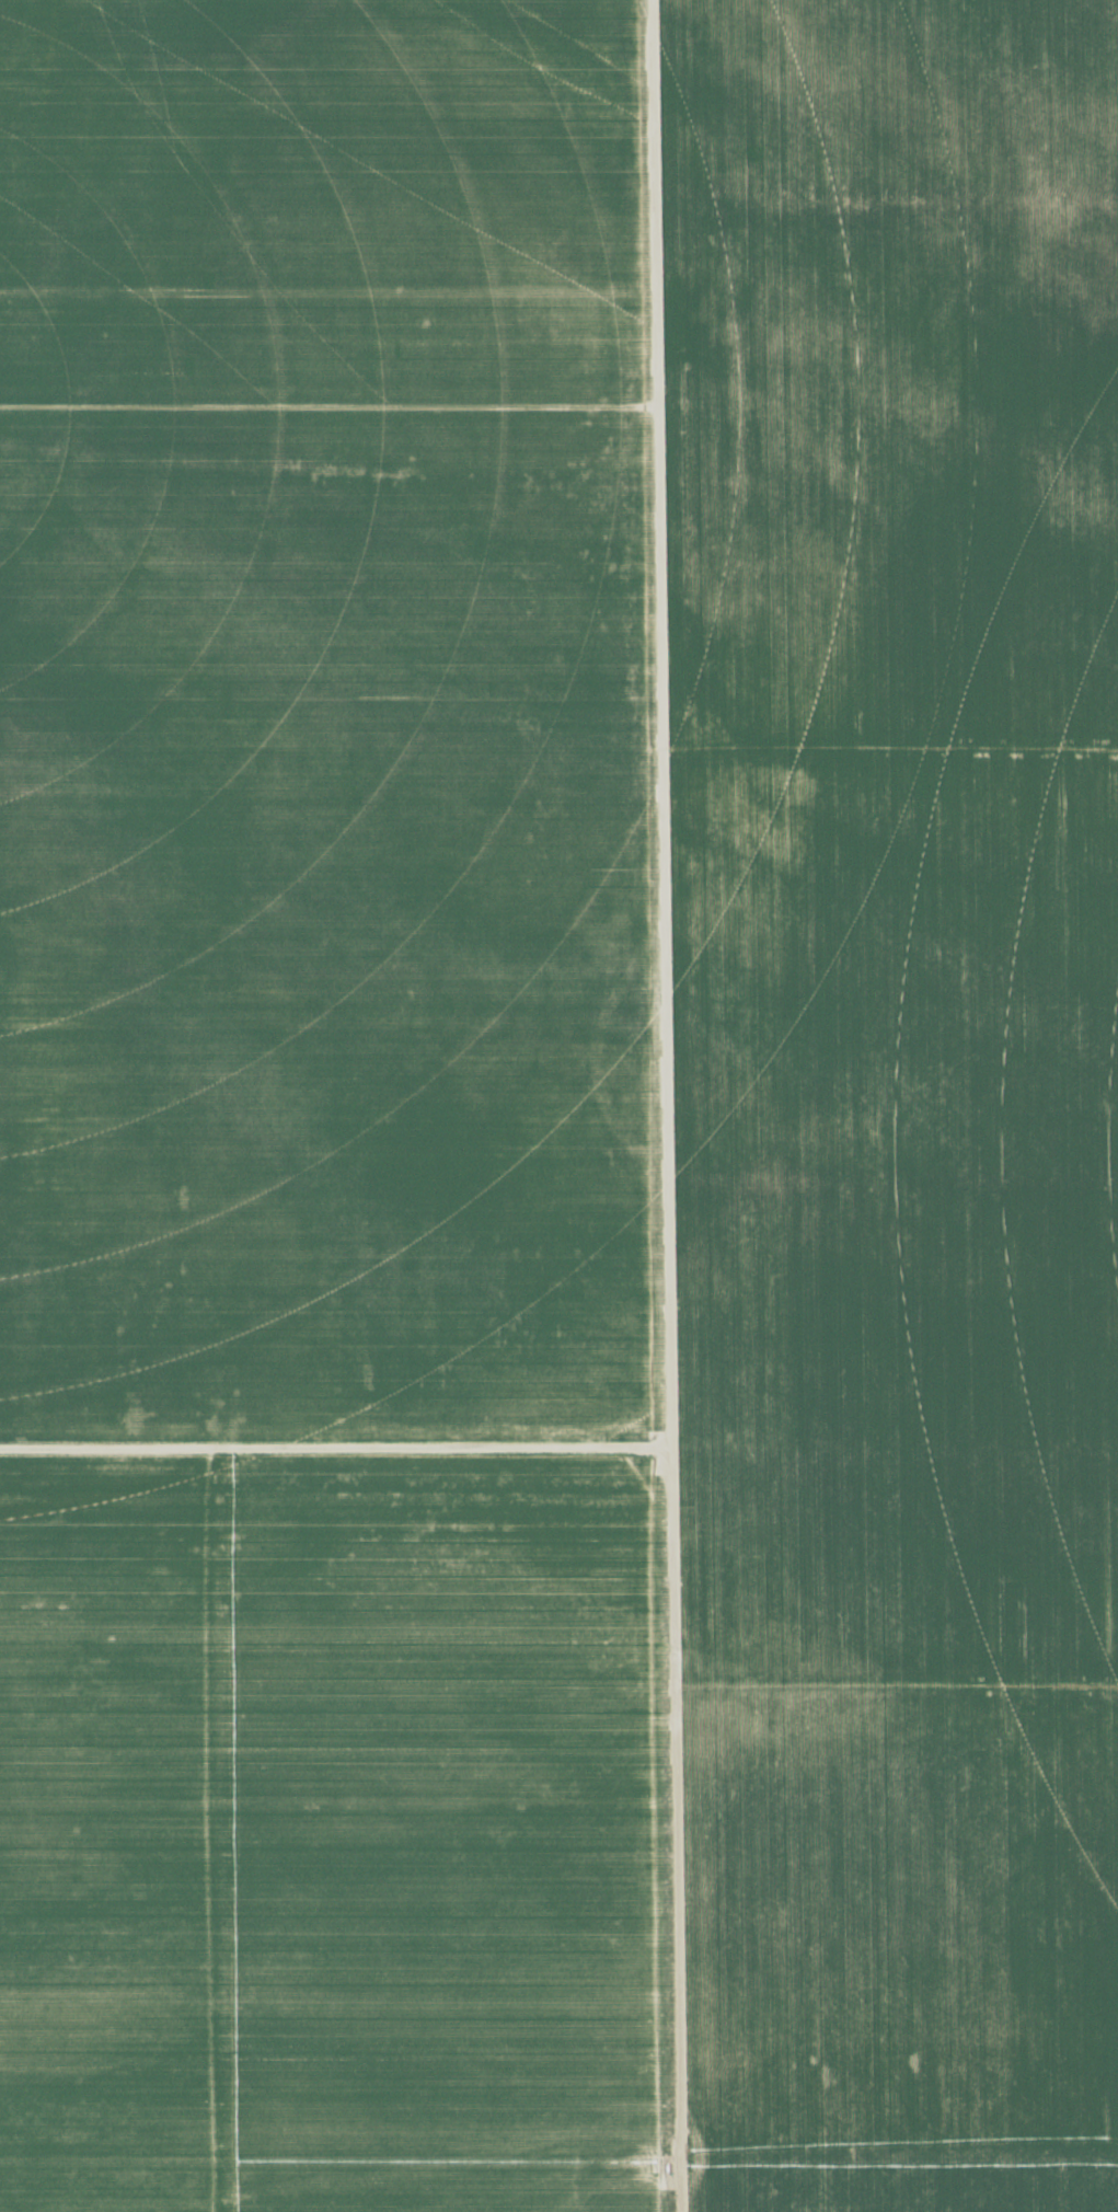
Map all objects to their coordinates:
road: (659, 1105)
road: (332, 1453)

